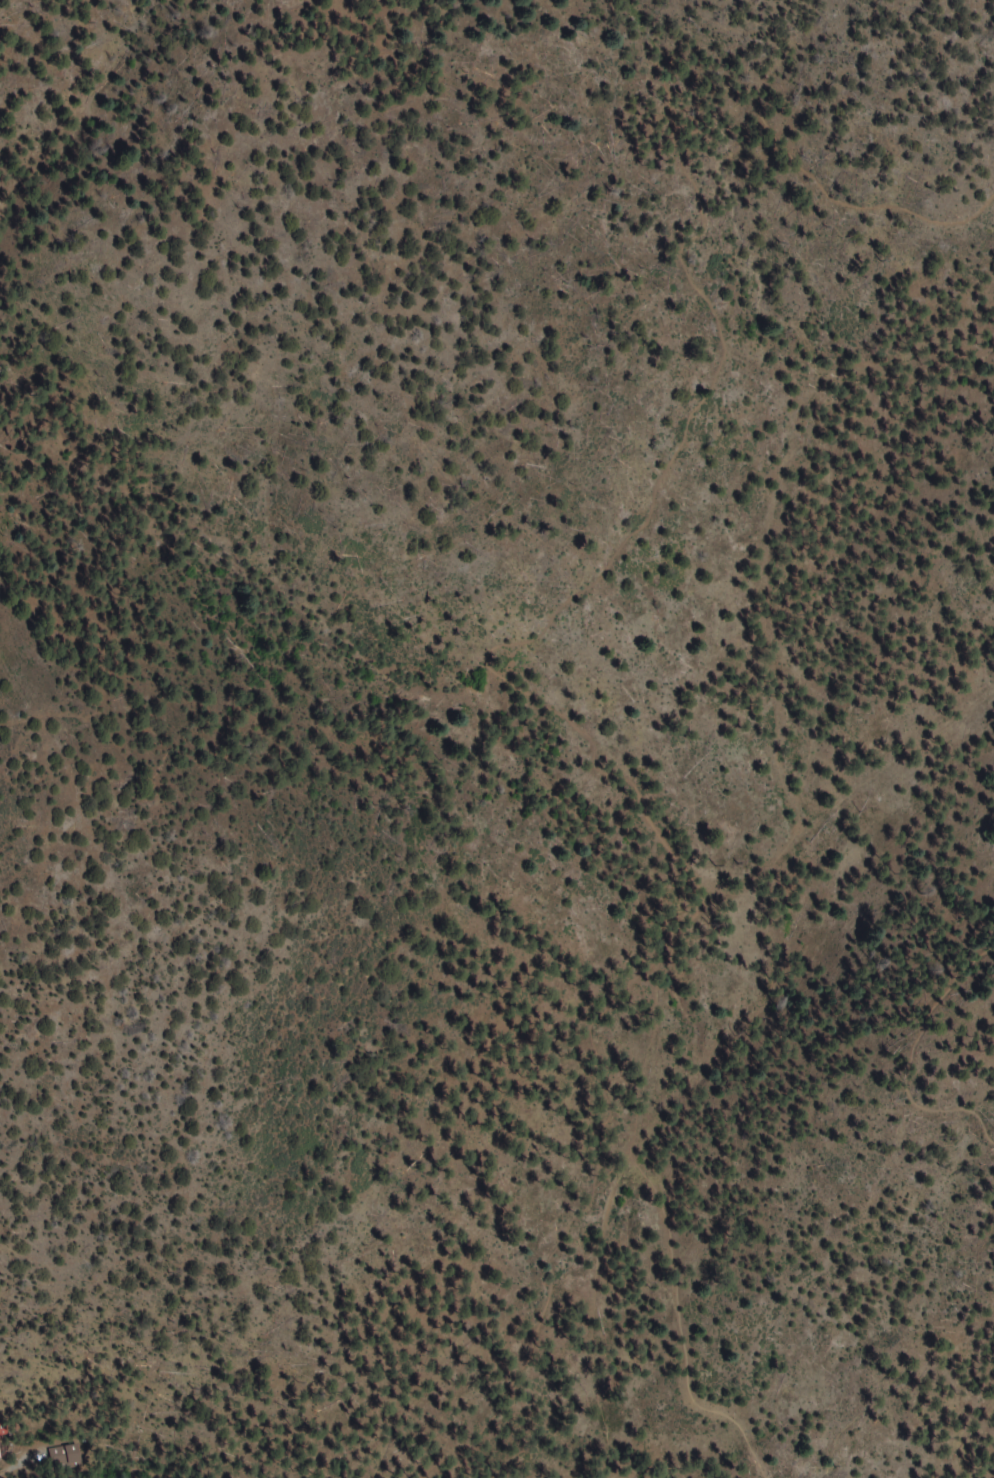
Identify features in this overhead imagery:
road: (751, 857)
road: (679, 1317)
building: (0, 1446)
building: (66, 1456)

